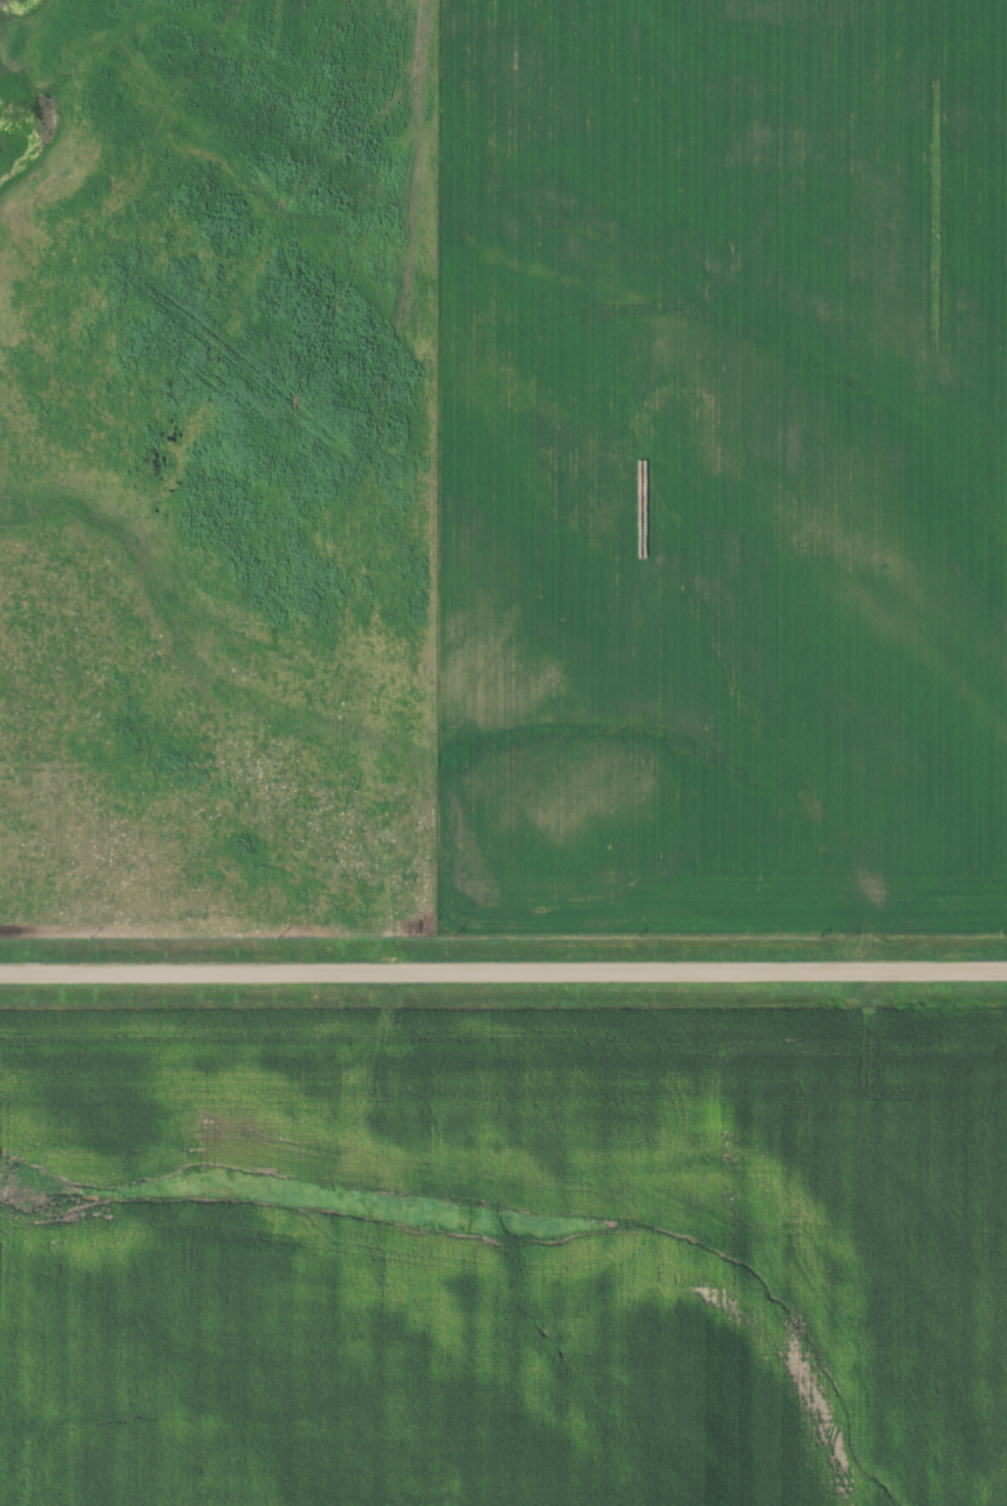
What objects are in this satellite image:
road: (503, 974)

